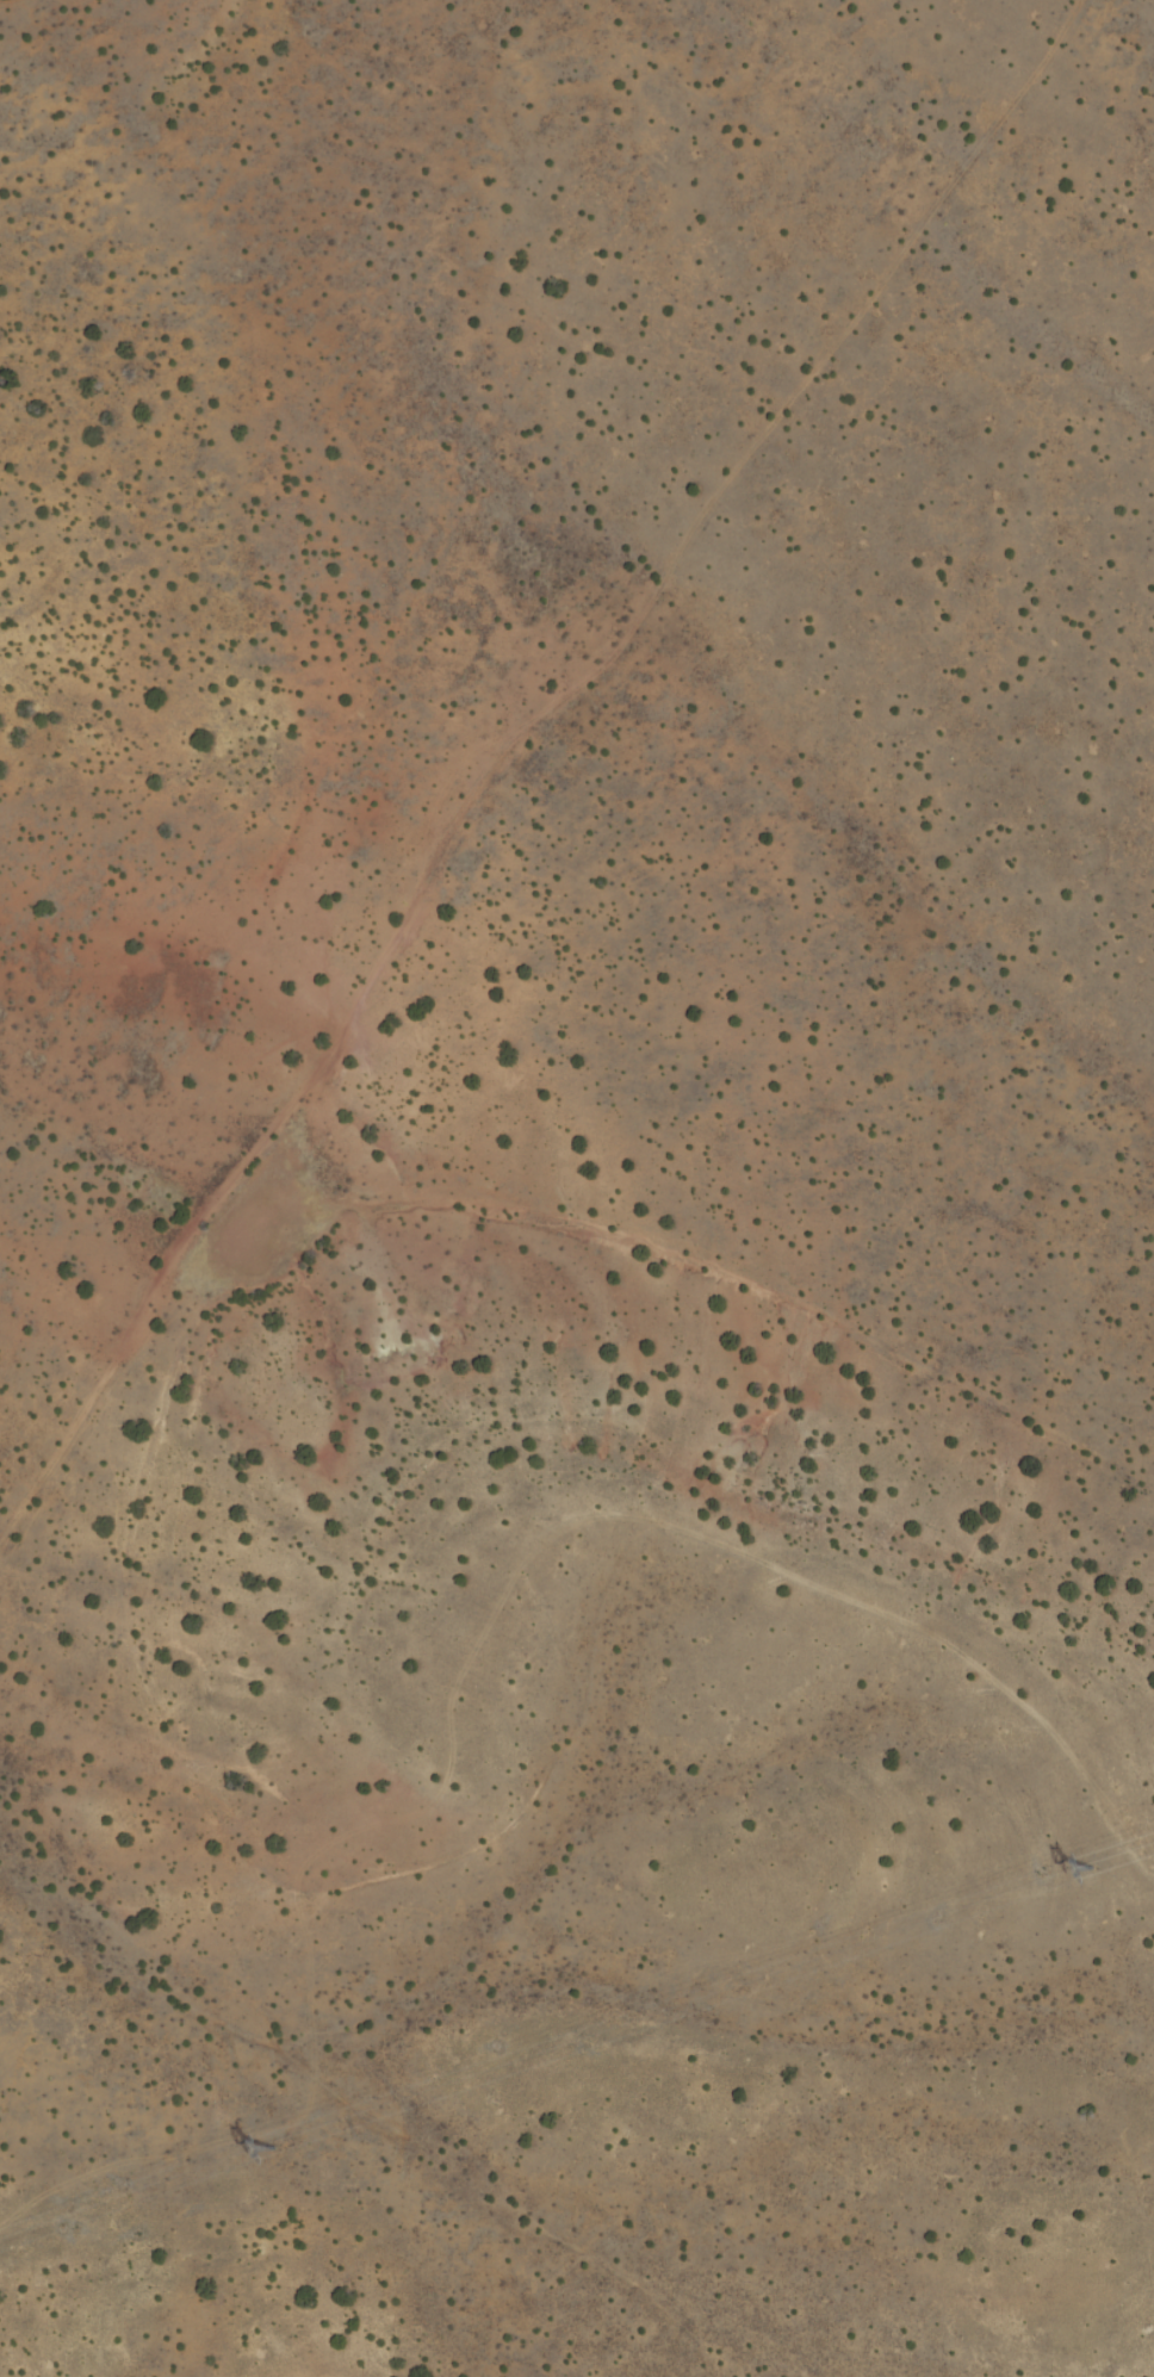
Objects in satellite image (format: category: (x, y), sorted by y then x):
road: (44, 1371)
power tower: (1094, 1867)
power tower: (274, 2146)

